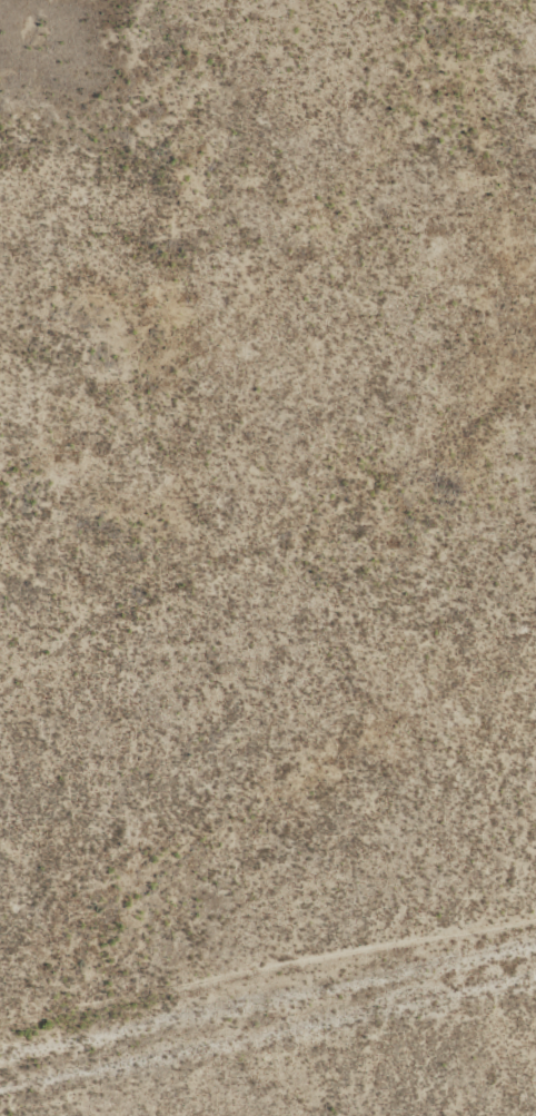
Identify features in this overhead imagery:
road: (268, 1051)

